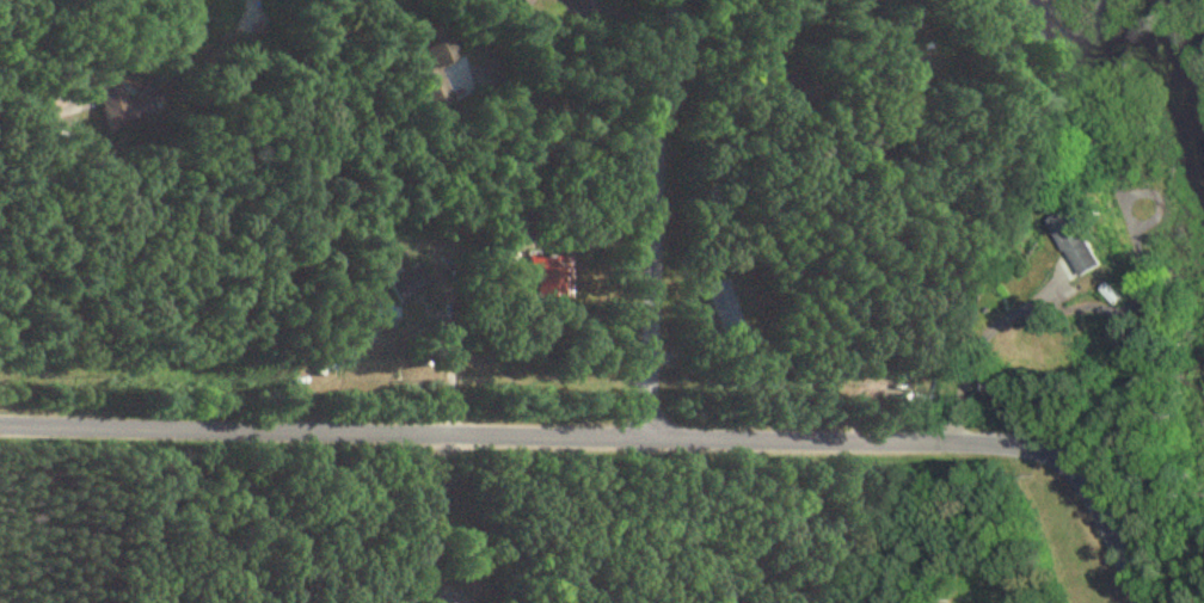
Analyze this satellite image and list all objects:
building: (515, 2)
building: (426, 66)
road: (570, 105)
building: (119, 107)
road: (652, 216)
building: (1077, 245)
building: (552, 278)
building: (403, 285)
building: (720, 304)
building: (376, 316)
road: (987, 340)
road: (449, 367)
road: (615, 436)
road: (429, 507)

